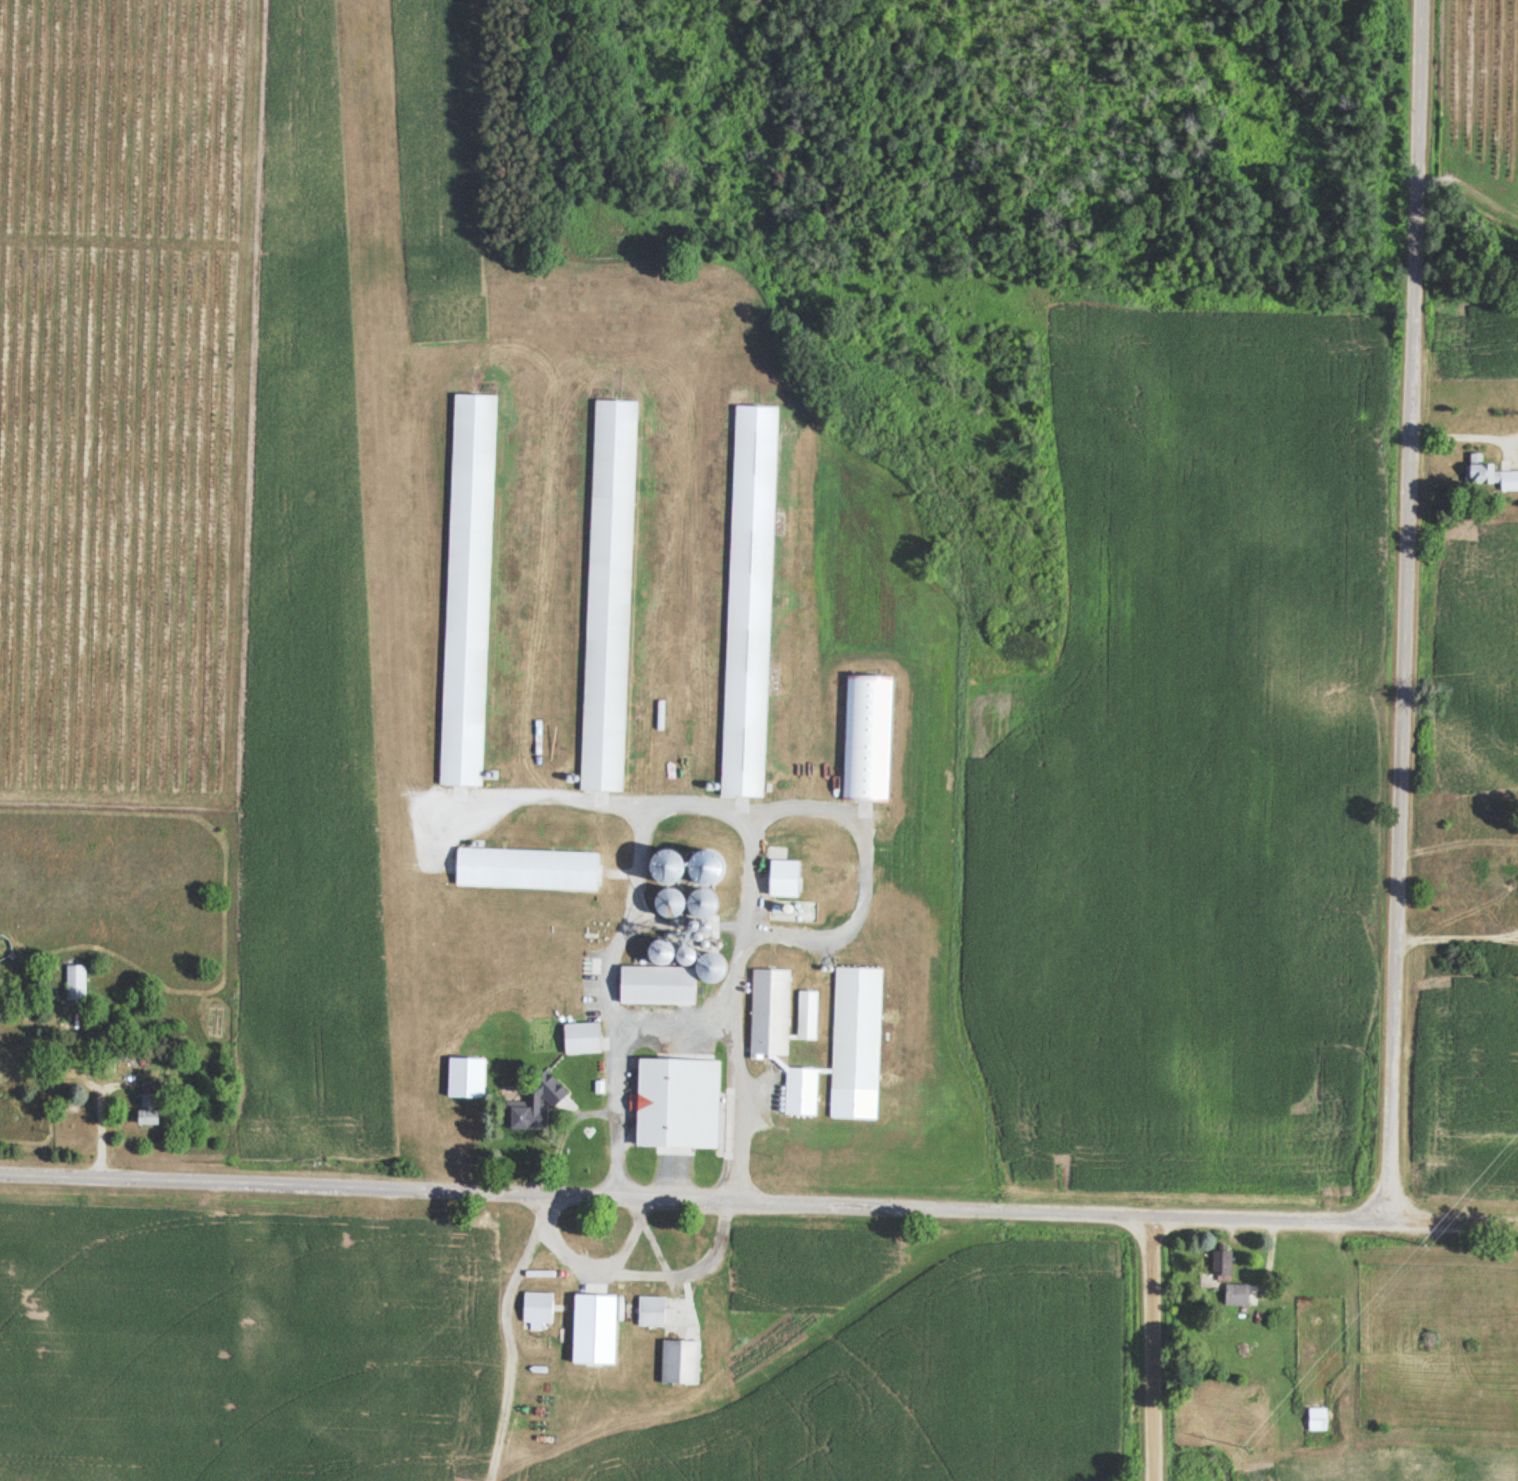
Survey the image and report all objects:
building: (1488, 475)
building: (466, 591)
building: (606, 597)
building: (747, 602)
road: (1394, 602)
building: (866, 740)
building: (525, 869)
building: (1507, 877)
building: (782, 878)
building: (661, 902)
building: (696, 904)
building: (664, 975)
building: (75, 982)
building: (768, 1012)
building: (806, 1016)
building: (855, 1029)
building: (578, 1039)
building: (463, 1078)
building: (790, 1093)
building: (655, 1097)
building: (532, 1104)
building: (144, 1111)
road: (686, 1185)
road: (1446, 1205)
building: (1222, 1266)
building: (366, 1275)
building: (1235, 1296)
building: (535, 1310)
building: (649, 1312)
building: (592, 1331)
road: (1134, 1341)
building: (677, 1363)
building: (1316, 1419)

